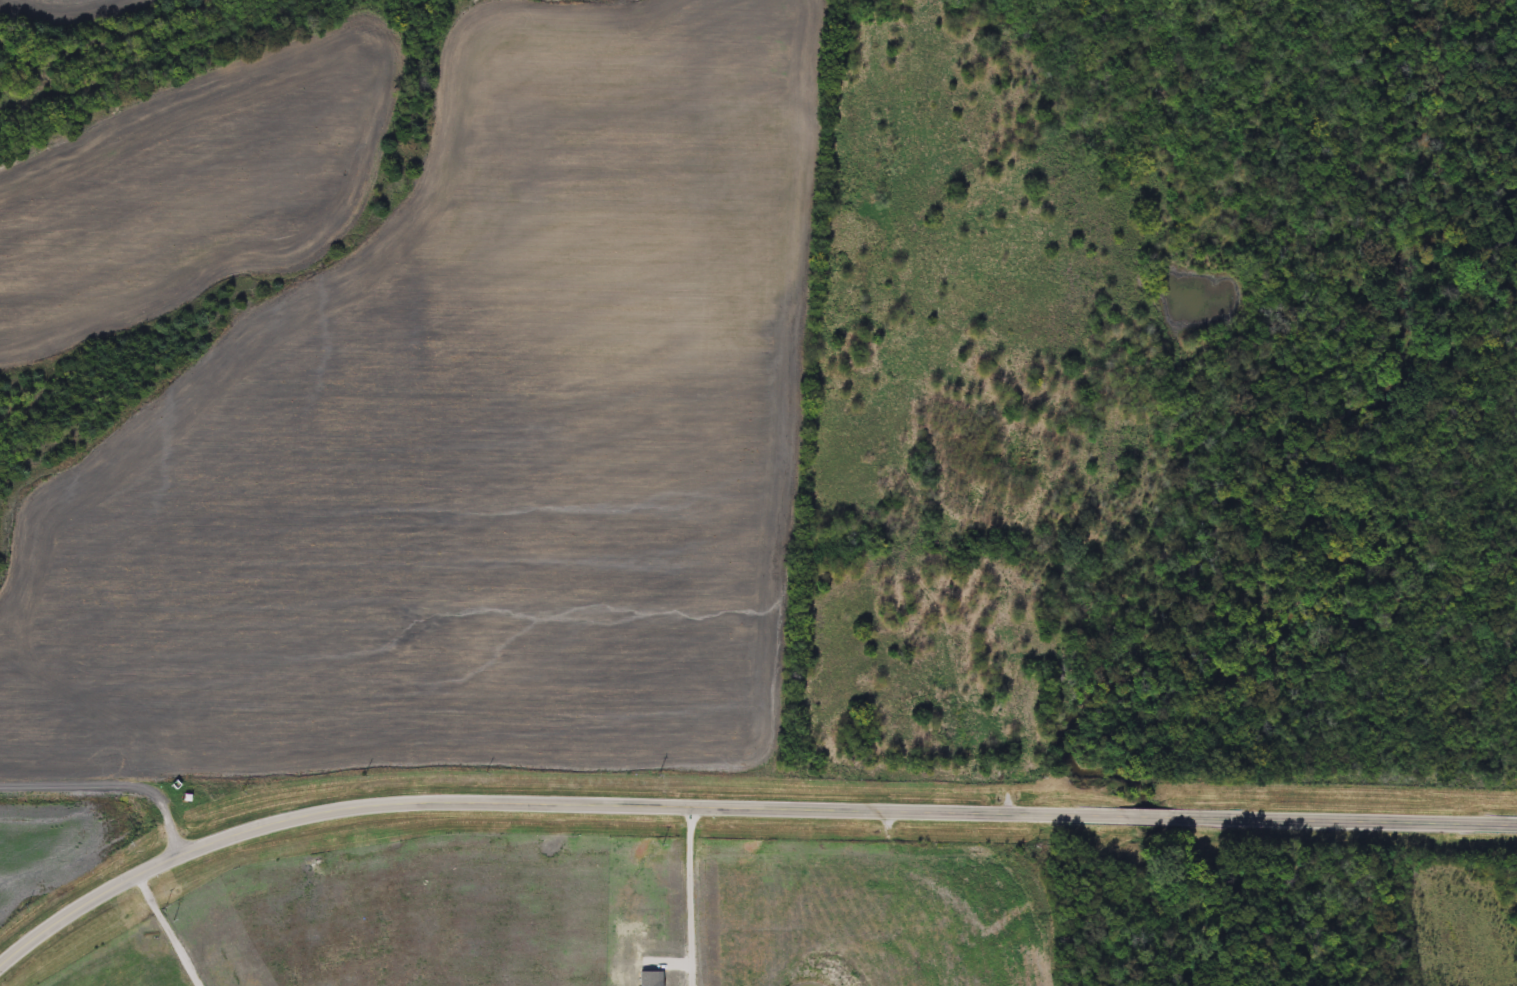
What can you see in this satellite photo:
road: (110, 785)
road: (542, 803)
road: (1150, 817)
road: (1346, 821)
road: (690, 896)
road: (172, 930)

